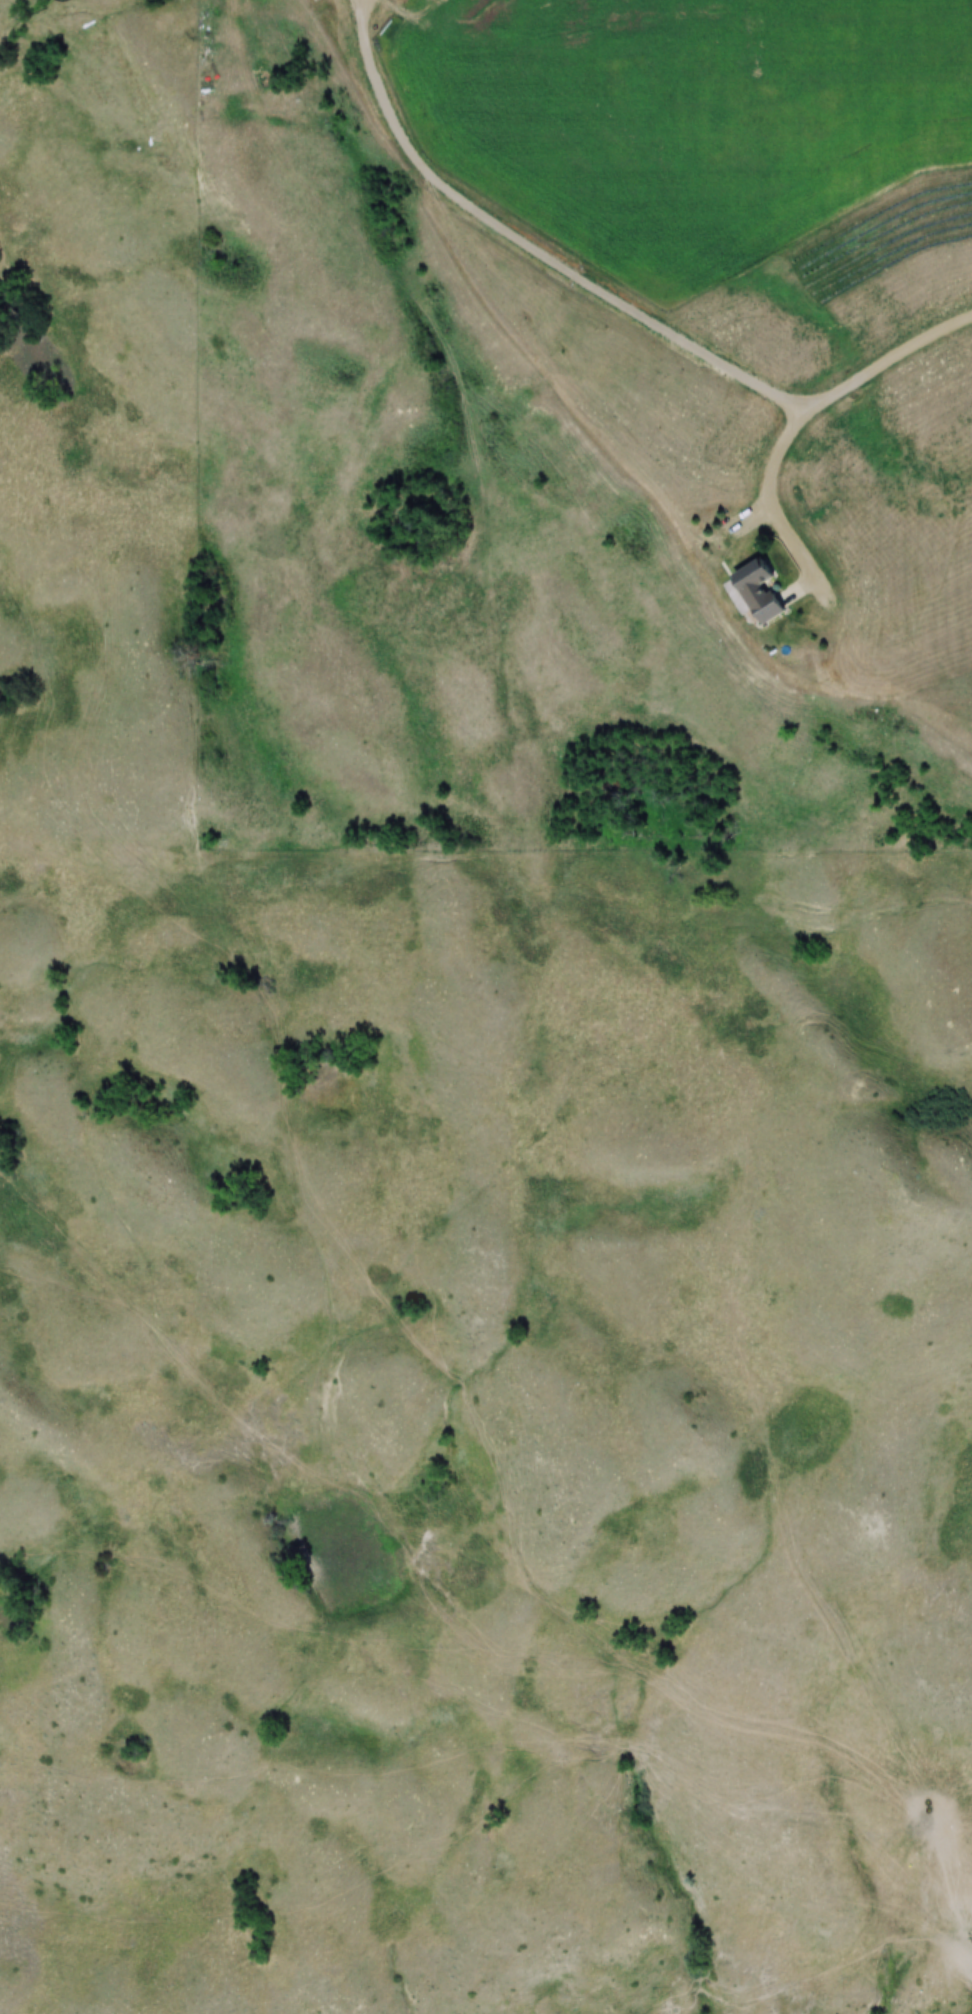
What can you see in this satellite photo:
road: (618, 299)
building: (769, 591)

